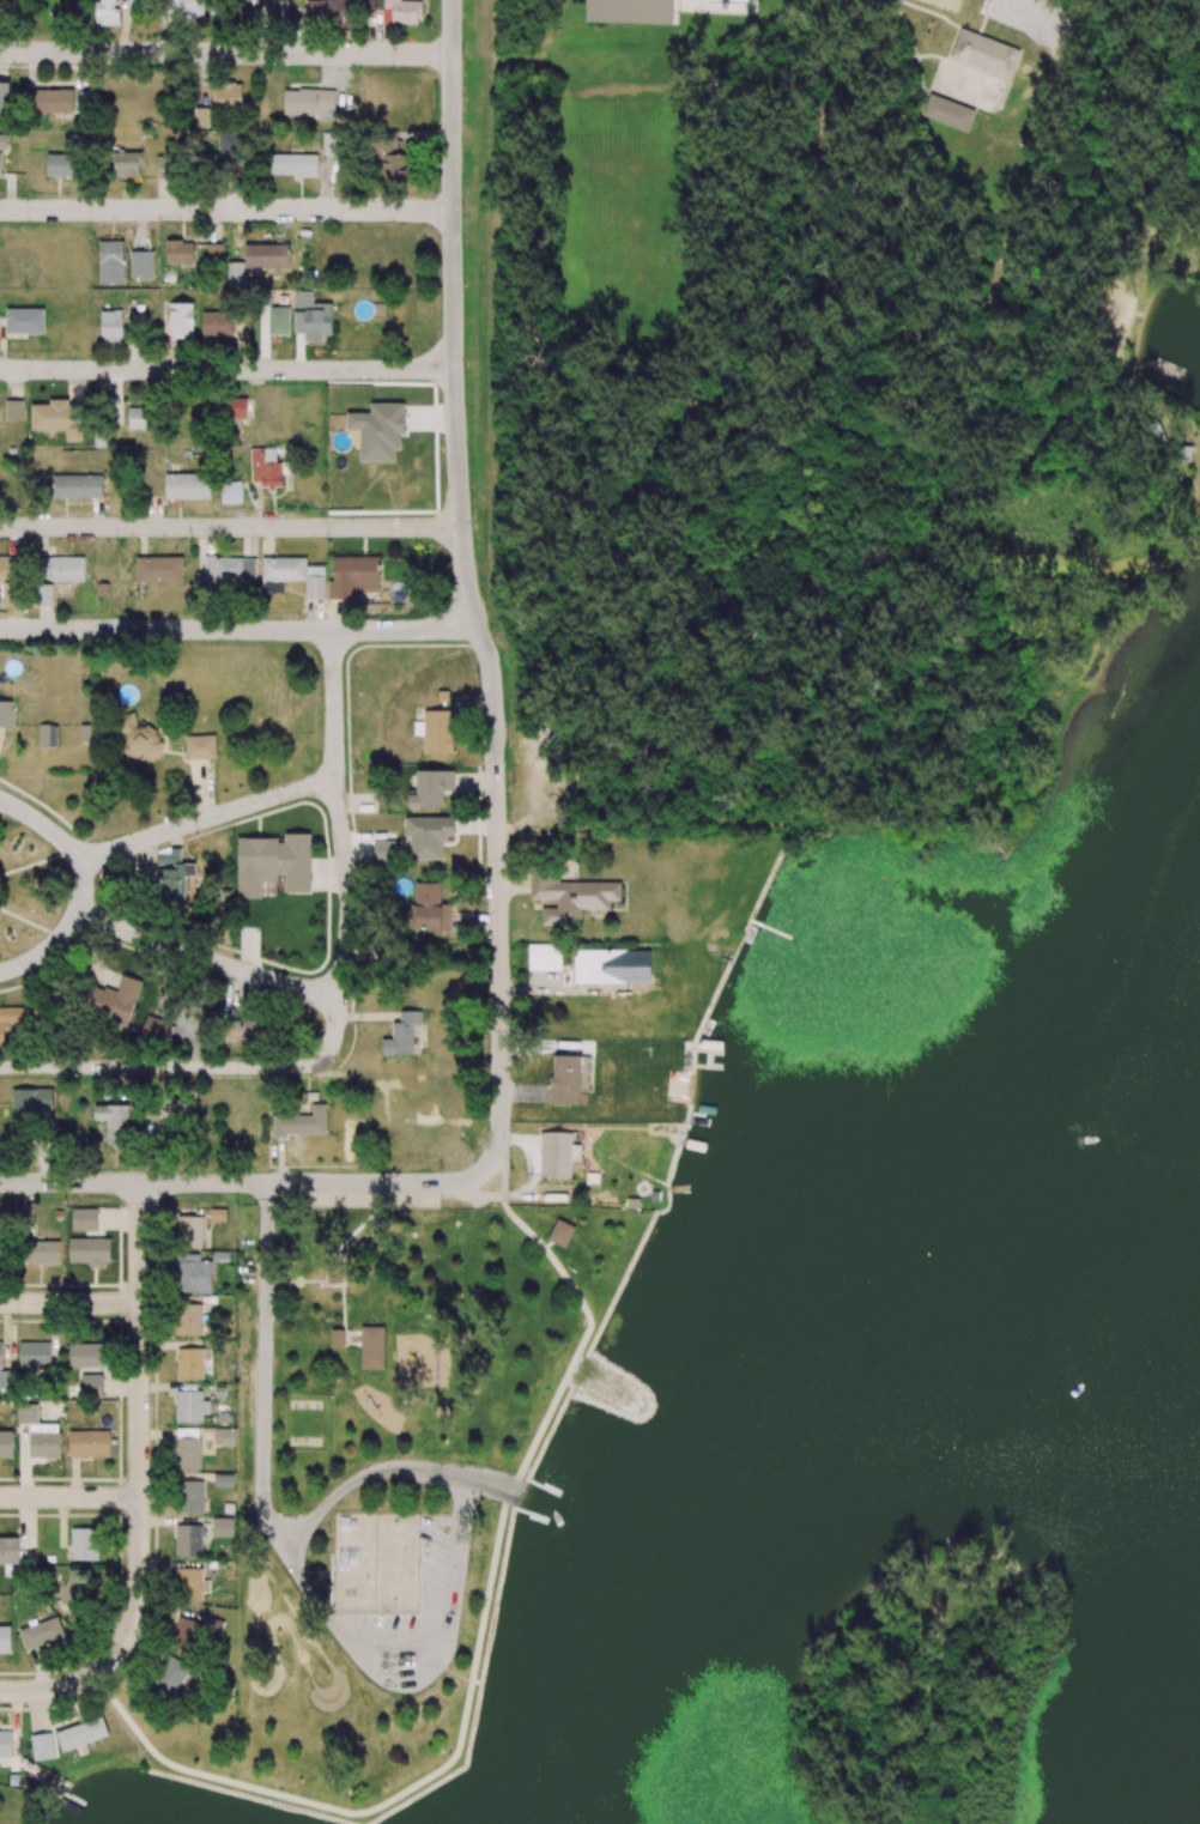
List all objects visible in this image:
park: (951, 2)
building: (186, 8)
road: (1034, 8)
building: (274, 10)
building: (396, 10)
building: (630, 11)
building: (107, 12)
building: (331, 13)
road: (225, 51)
building: (986, 53)
building: (228, 96)
building: (4, 97)
building: (53, 101)
building: (308, 103)
building: (949, 113)
building: (200, 117)
building: (2, 141)
building: (332, 143)
building: (390, 156)
building: (0, 162)
building: (127, 164)
building: (292, 164)
building: (165, 166)
road: (226, 210)
building: (178, 252)
building: (214, 252)
building: (267, 255)
building: (111, 261)
building: (141, 263)
building: (235, 274)
building: (311, 316)
building: (24, 321)
building: (278, 321)
building: (182, 322)
building: (216, 322)
building: (111, 326)
park: (819, 357)
road: (228, 369)
building: (236, 408)
building: (13, 410)
building: (59, 418)
building: (138, 418)
building: (378, 431)
building: (265, 471)
building: (77, 486)
building: (188, 486)
building: (231, 492)
road: (231, 527)
building: (10, 569)
building: (62, 569)
building: (159, 569)
building: (228, 569)
building: (292, 576)
building: (353, 576)
road: (468, 589)
building: (44, 595)
road: (240, 629)
road: (334, 704)
building: (6, 714)
building: (438, 732)
building: (47, 735)
building: (140, 739)
building: (200, 746)
building: (431, 789)
road: (208, 818)
building: (428, 836)
road: (63, 841)
building: (384, 850)
building: (273, 863)
building: (172, 877)
park: (28, 887)
building: (570, 897)
building: (432, 905)
road: (44, 949)
building: (544, 957)
road: (208, 959)
building: (600, 966)
building: (113, 1000)
building: (10, 1025)
building: (154, 1029)
building: (186, 1031)
building: (253, 1032)
building: (402, 1034)
road: (304, 1065)
building: (30, 1101)
building: (180, 1110)
building: (114, 1122)
building: (301, 1122)
building: (556, 1155)
road: (241, 1182)
building: (217, 1214)
building: (84, 1219)
building: (189, 1231)
building: (560, 1232)
building: (90, 1250)
building: (1, 1252)
building: (41, 1252)
building: (190, 1274)
road: (69, 1302)
building: (188, 1320)
building: (337, 1338)
building: (371, 1347)
building: (0, 1355)
building: (35, 1355)
building: (87, 1355)
building: (189, 1364)
park: (1005, 1376)
building: (91, 1386)
building: (190, 1406)
building: (38, 1434)
building: (224, 1436)
building: (89, 1443)
building: (6, 1444)
building: (187, 1448)
building: (223, 1480)
road: (139, 1484)
road: (503, 1486)
park: (499, 1489)
road: (69, 1496)
building: (190, 1496)
building: (222, 1527)
building: (188, 1540)
building: (84, 1544)
building: (8, 1550)
park: (357, 1563)
park: (399, 1564)
building: (190, 1583)
building: (73, 1587)
building: (195, 1631)
building: (41, 1634)
road: (345, 1638)
building: (5, 1640)
road: (480, 1640)
building: (170, 1677)
building: (81, 1733)
building: (5, 1744)
building: (42, 1746)

